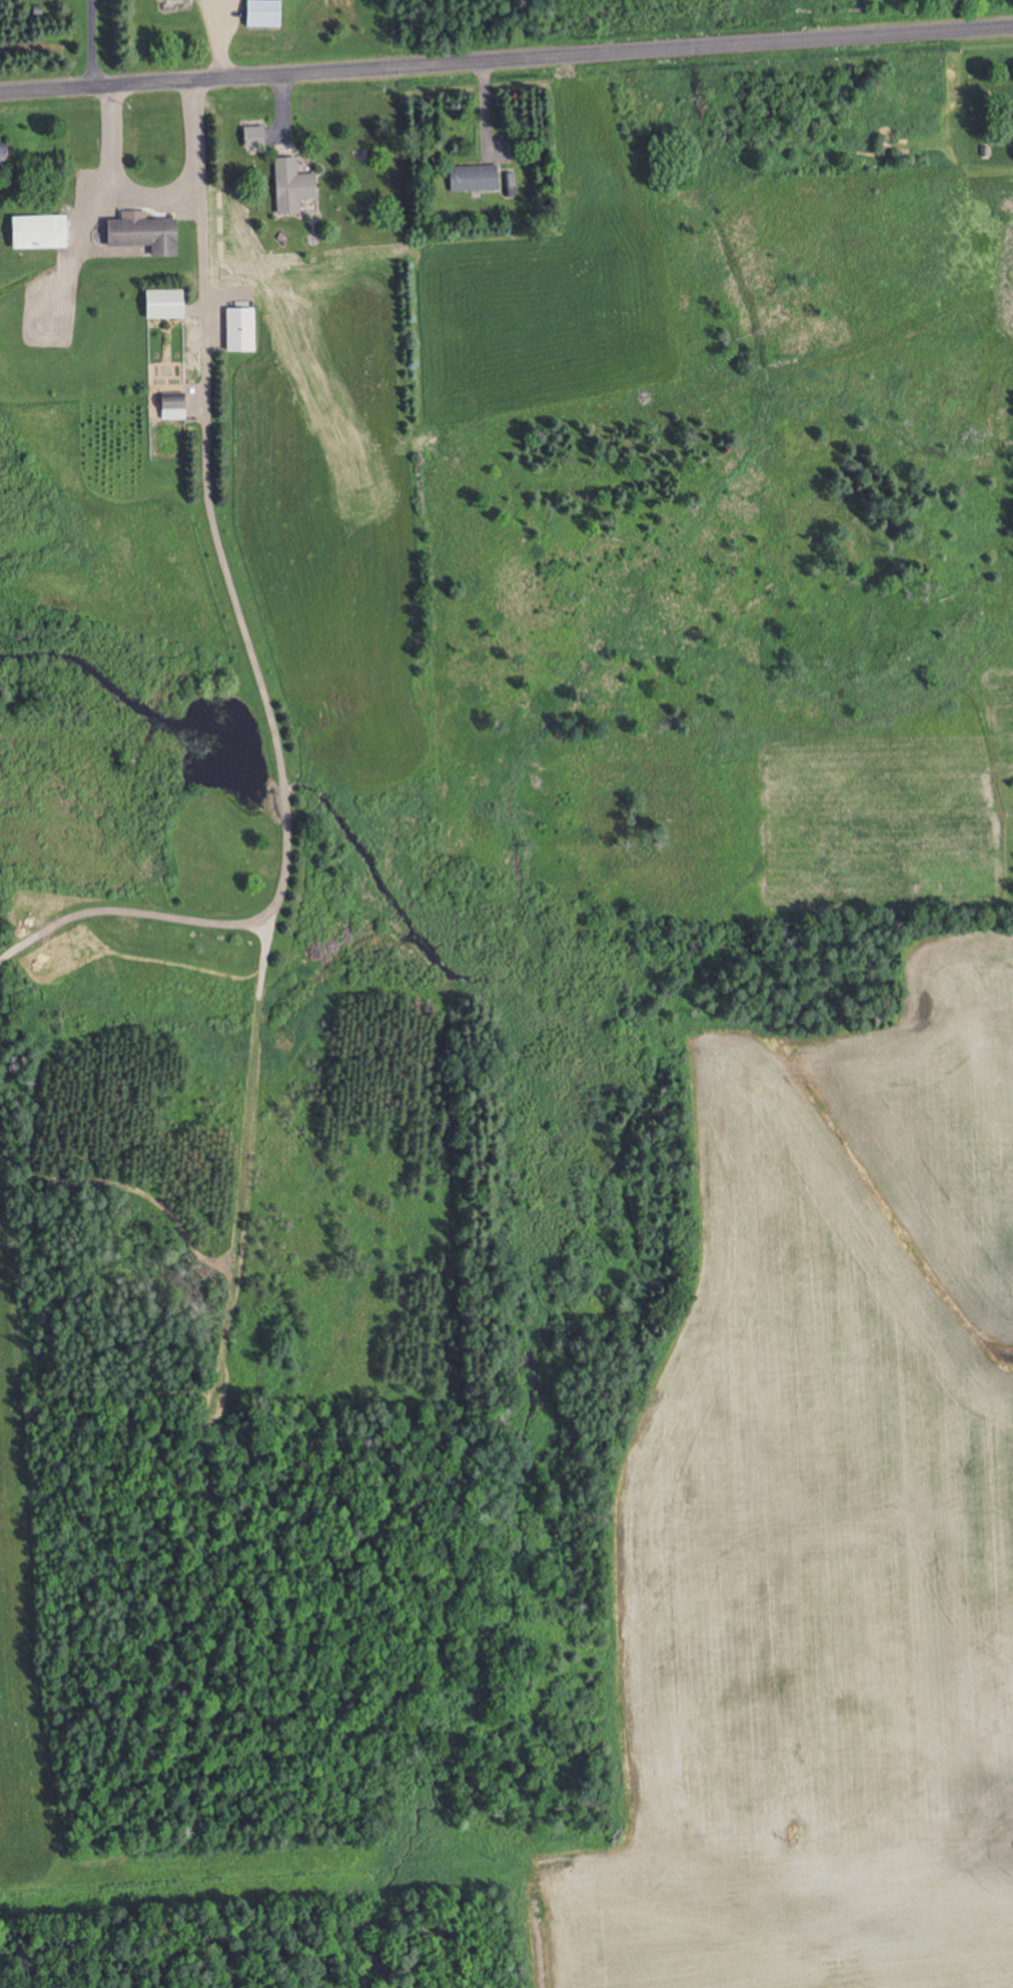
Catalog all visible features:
building: (175, 0)
building: (267, 13)
road: (506, 56)
building: (1009, 118)
building: (257, 135)
building: (7, 152)
building: (476, 177)
building: (295, 185)
building: (44, 231)
building: (147, 232)
building: (169, 303)
building: (177, 407)
crop: (821, 1528)
crop: (20, 1650)

